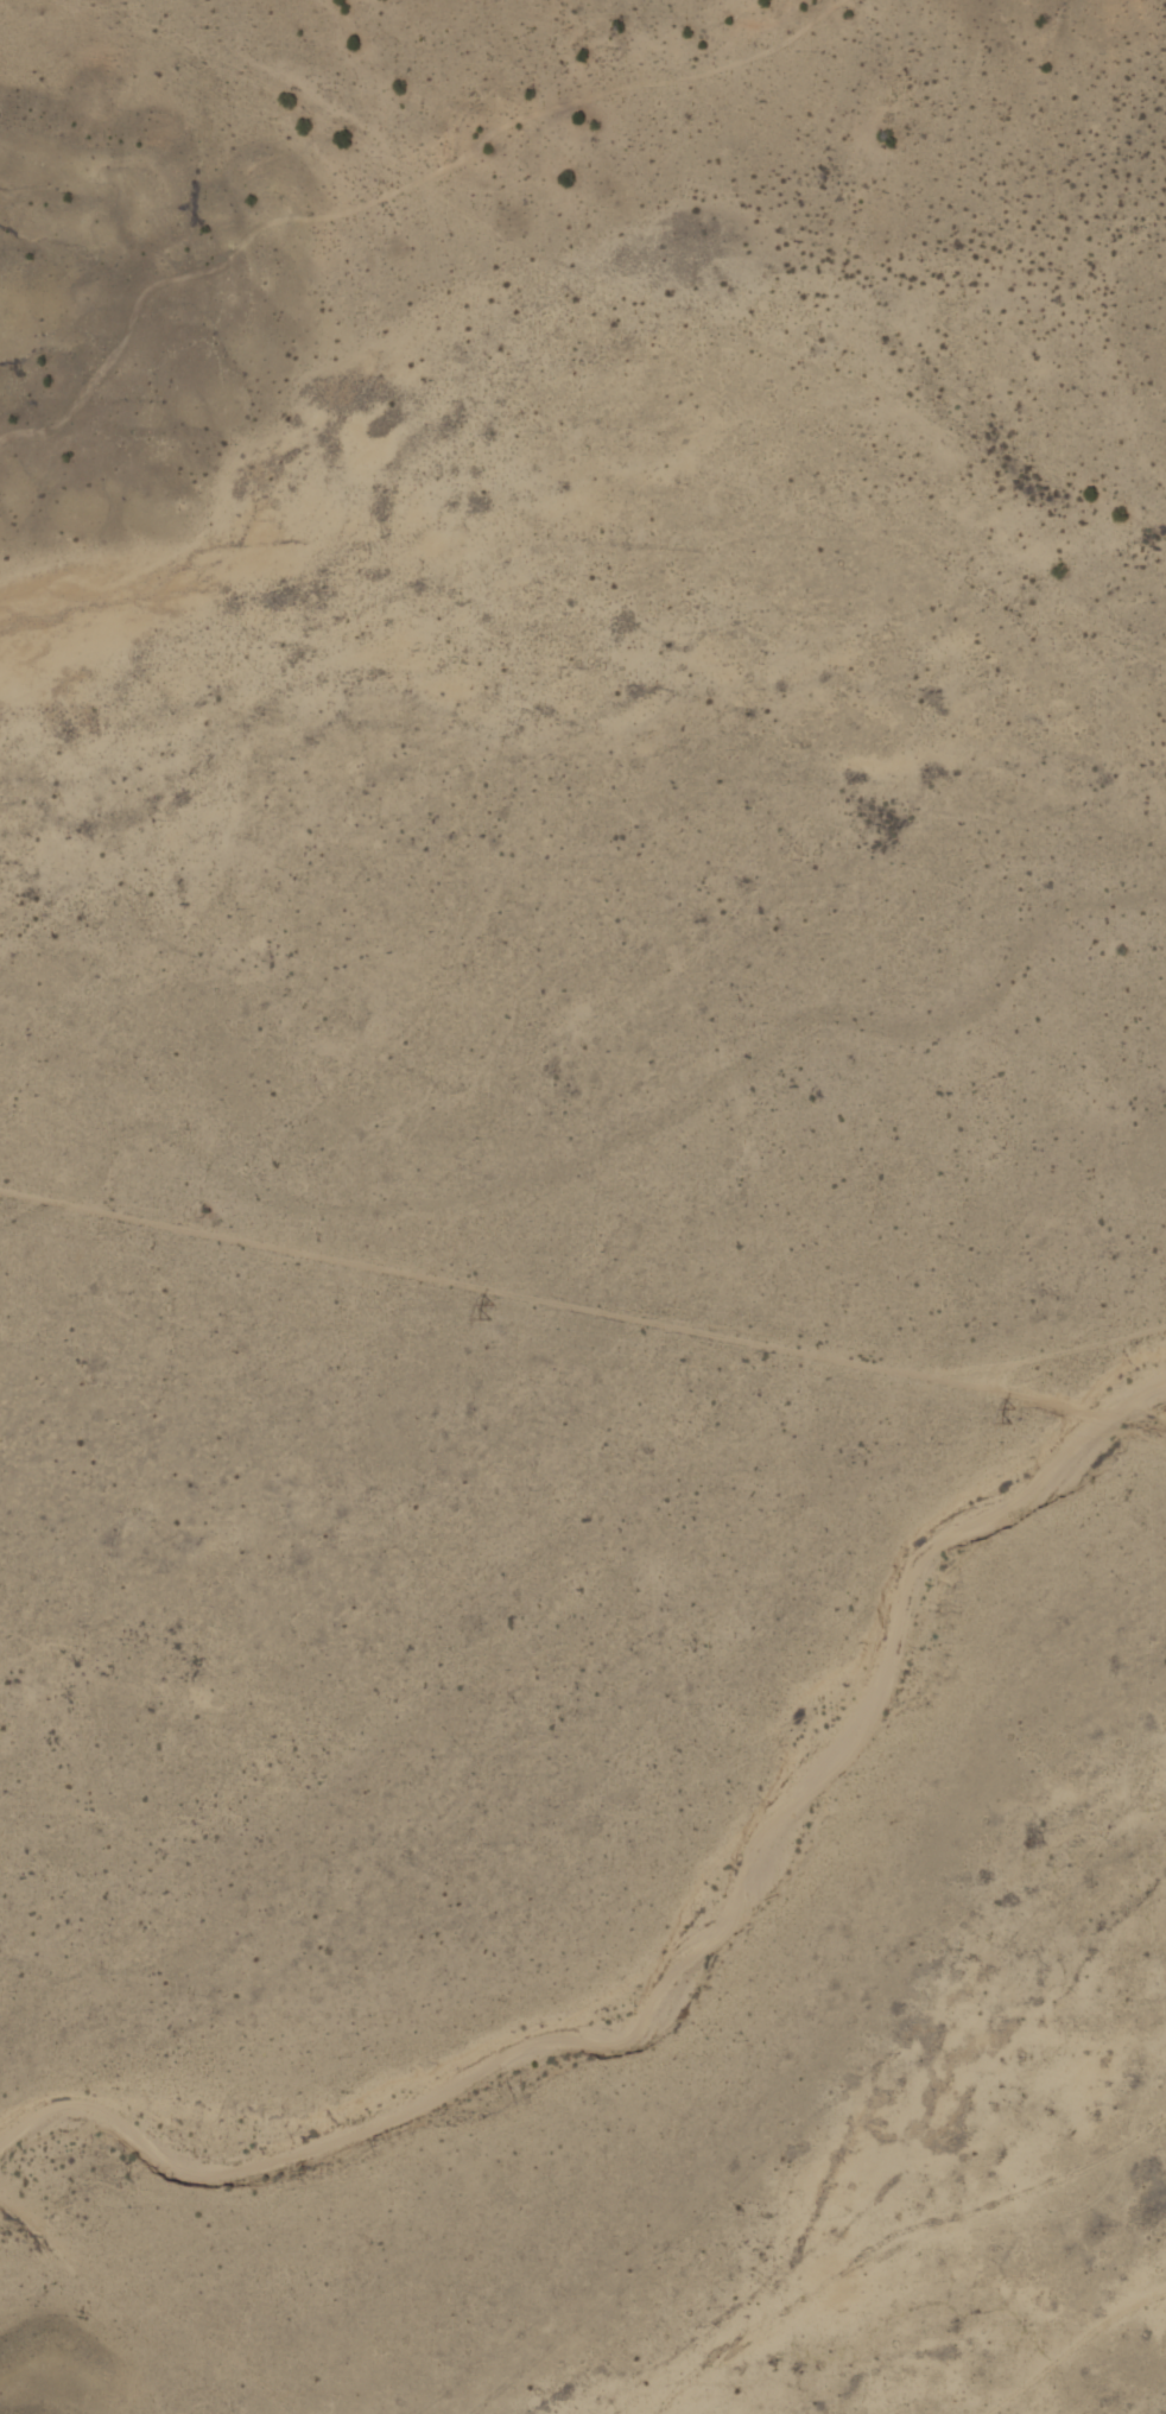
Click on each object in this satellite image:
power tower: (488, 1311)
power tower: (1008, 1417)

